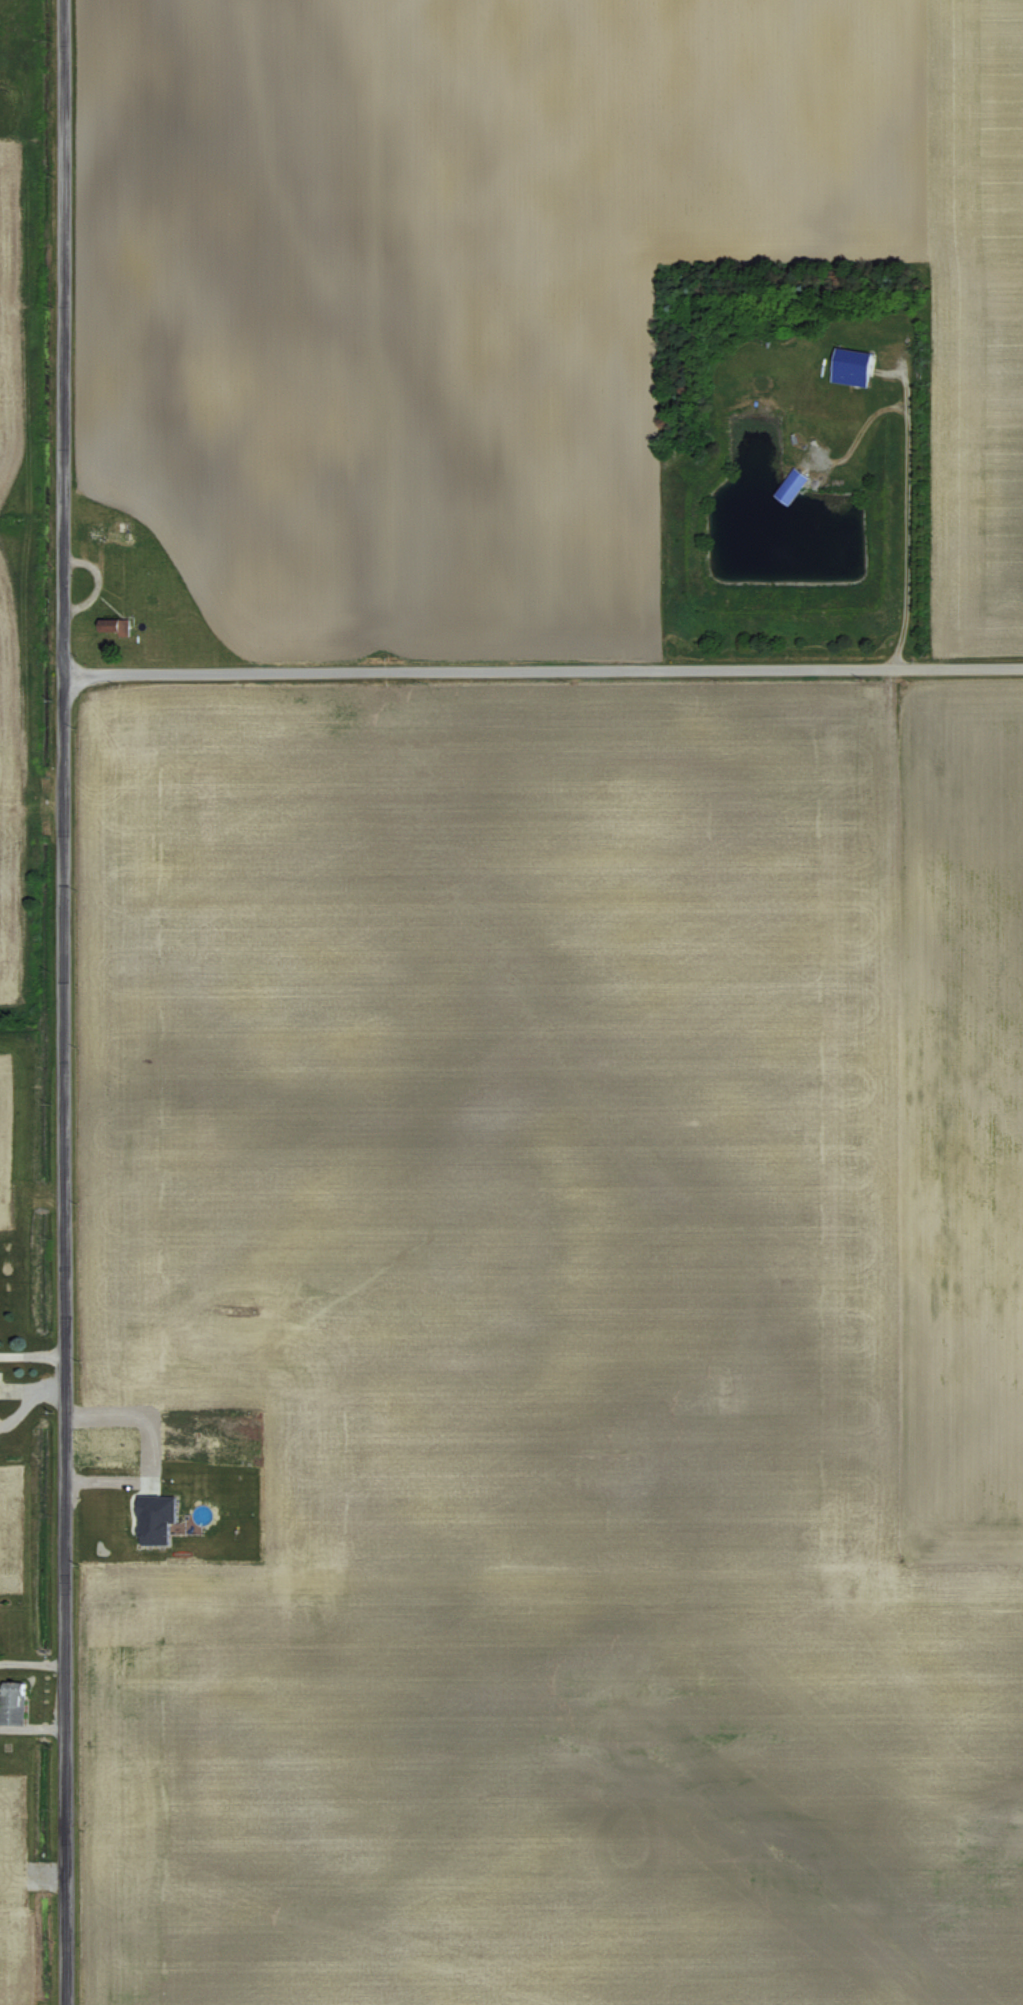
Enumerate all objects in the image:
building: (849, 365)
building: (788, 484)
road: (905, 484)
building: (117, 626)
road: (542, 667)
road: (62, 1002)
crop: (12, 1152)
road: (32, 1352)
building: (162, 1516)

